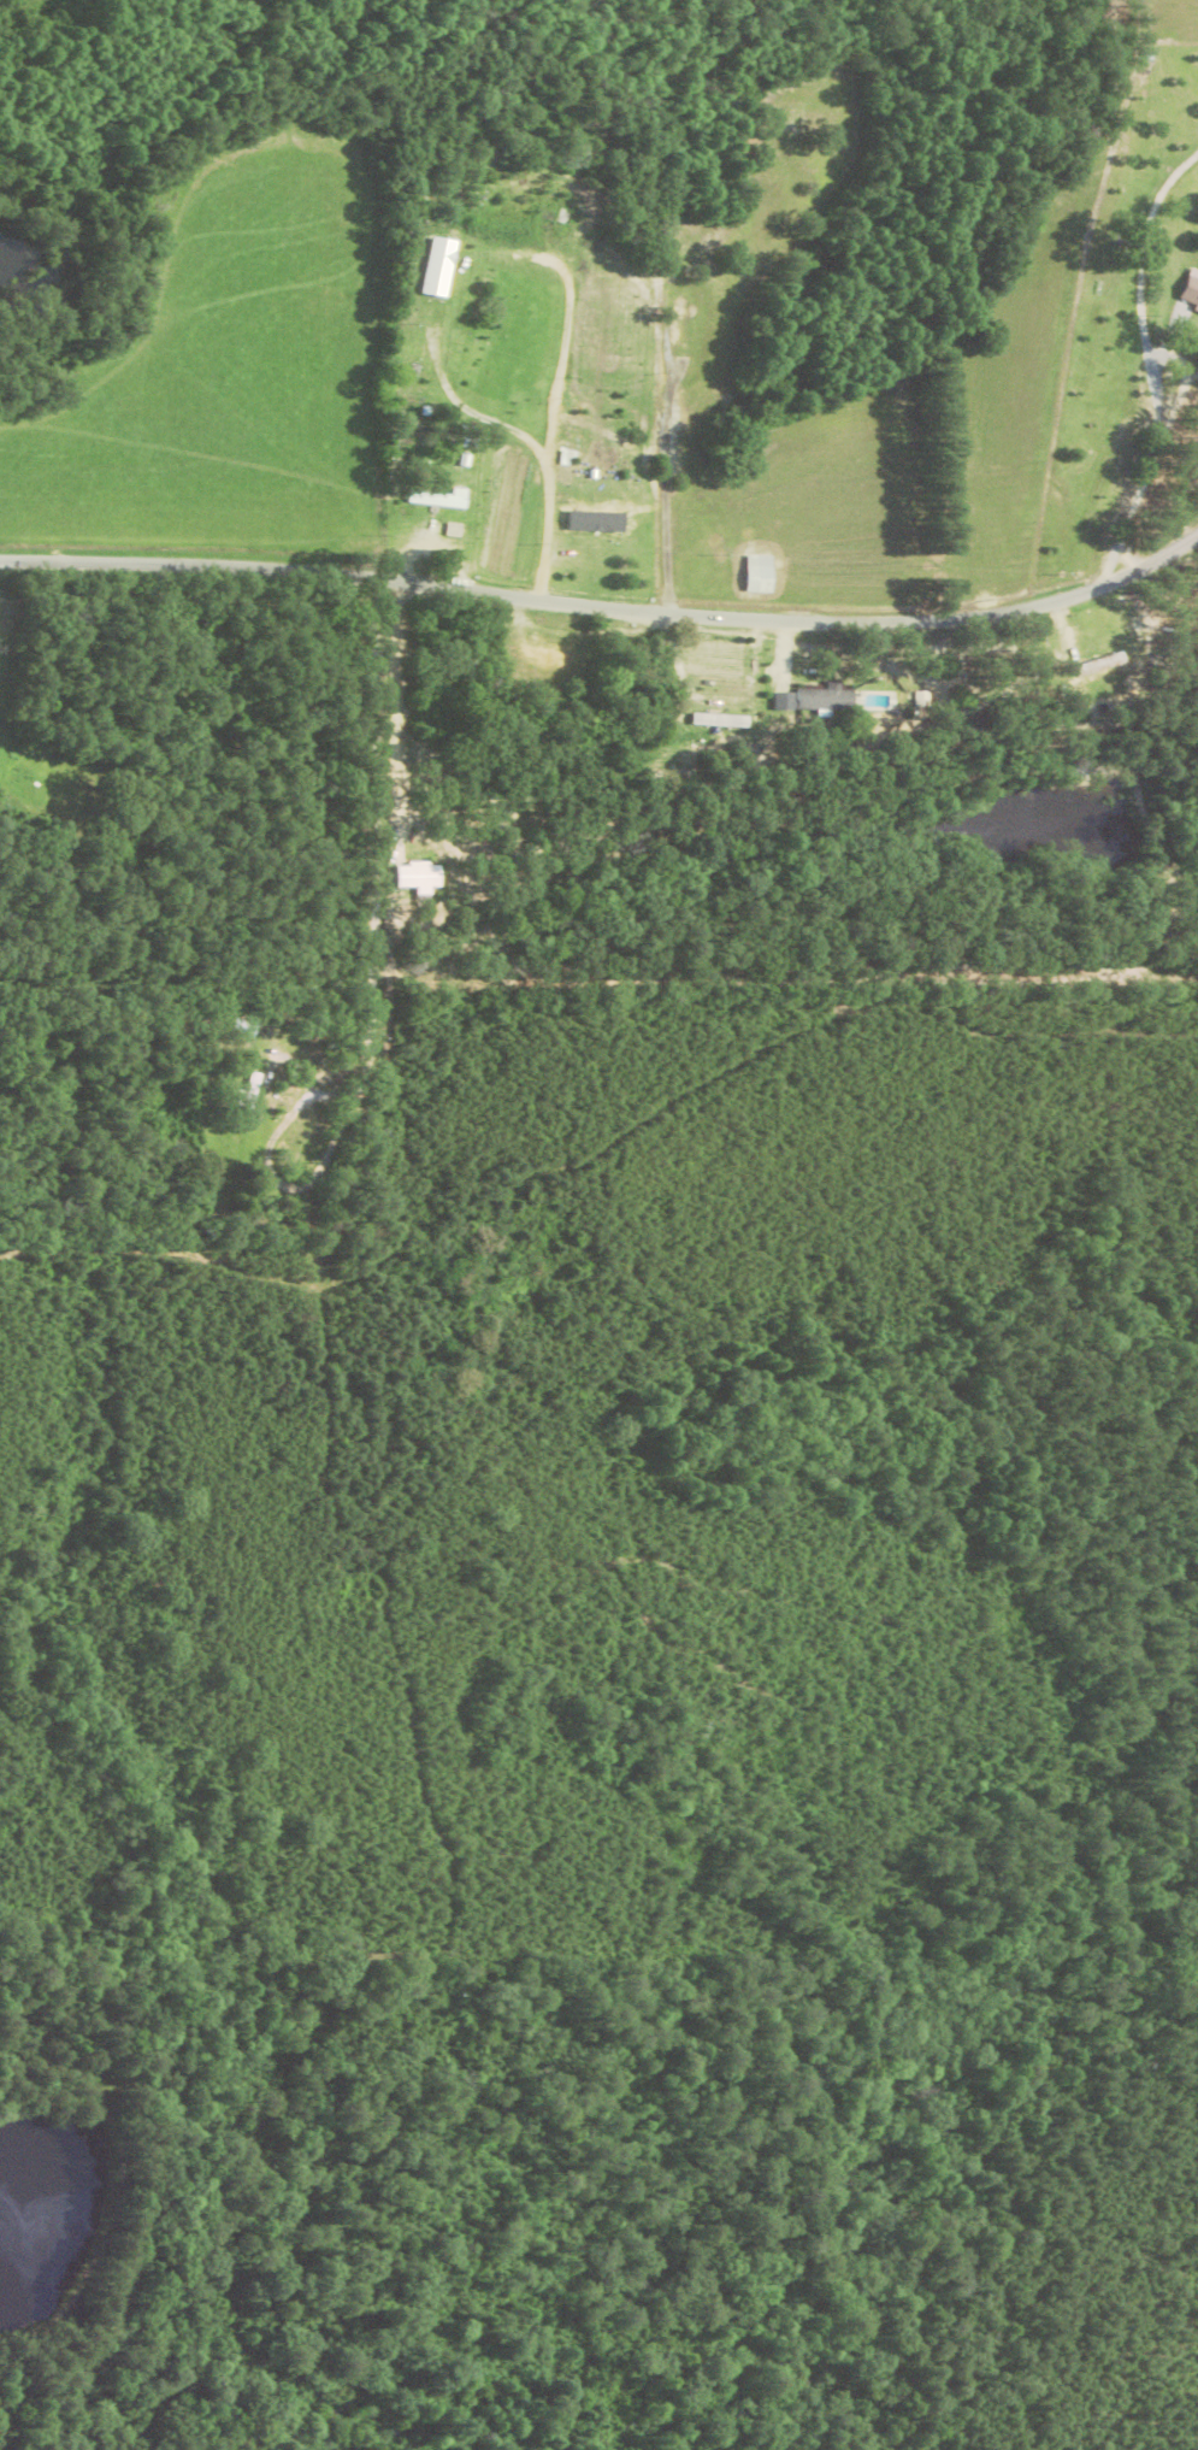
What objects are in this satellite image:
building: (439, 266)
building: (1188, 291)
building: (436, 502)
building: (603, 514)
building: (759, 573)
road: (607, 606)
road: (1161, 652)
building: (1100, 675)
building: (825, 699)
building: (921, 700)
road: (367, 919)
building: (253, 1082)
road: (501, 1082)
road: (254, 1289)

